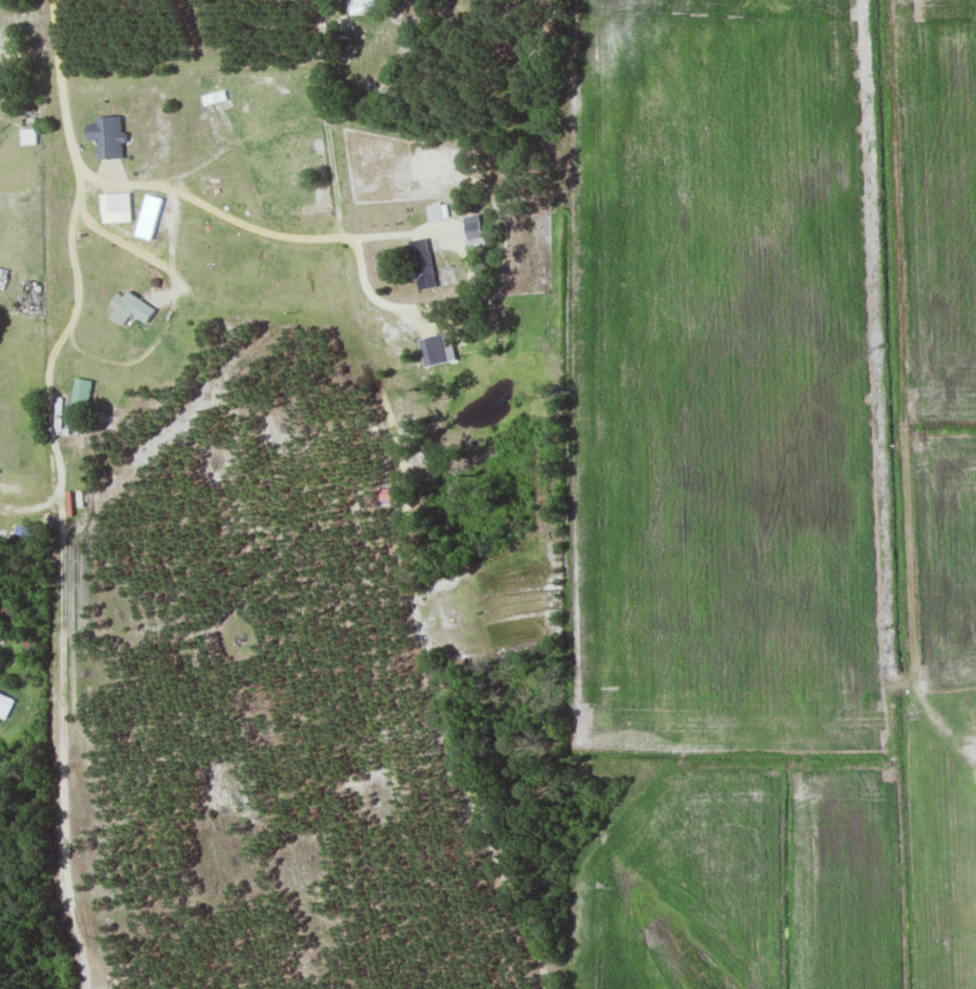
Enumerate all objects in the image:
building: (361, 5)
road: (59, 86)
building: (28, 117)
building: (106, 136)
building: (115, 203)
building: (437, 211)
building: (148, 217)
building: (473, 230)
building: (421, 264)
building: (130, 309)
building: (81, 393)
building: (9, 483)
building: (9, 613)
road: (30, 613)
building: (30, 642)
building: (4, 706)

